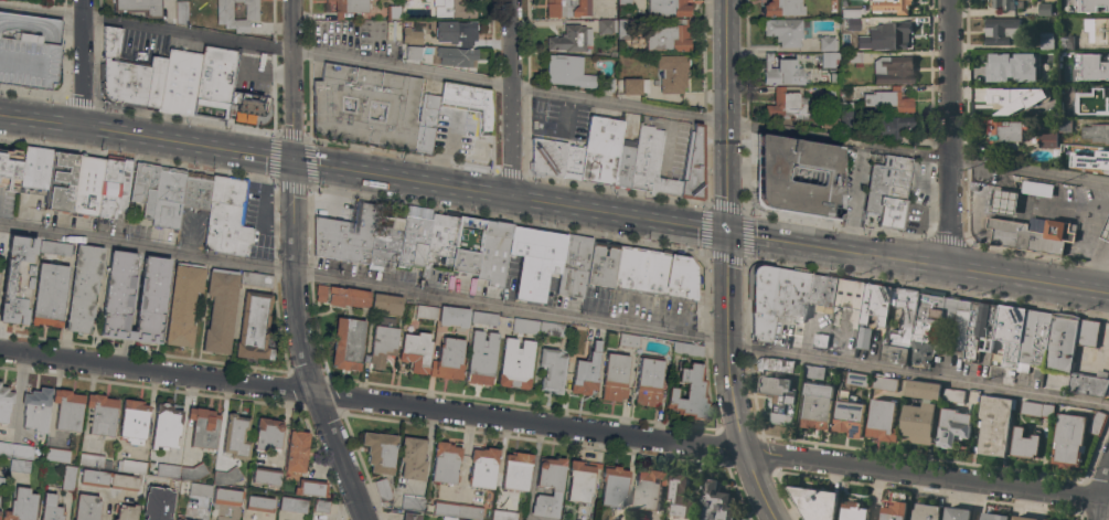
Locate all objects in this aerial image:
building: (625, 2)
building: (1003, 4)
building: (895, 6)
building: (1092, 6)
building: (139, 7)
building: (351, 7)
building: (567, 8)
building: (669, 8)
building: (782, 8)
building: (452, 9)
building: (1044, 9)
building: (180, 11)
building: (224, 11)
building: (394, 12)
building: (853, 23)
building: (607, 25)
building: (627, 26)
building: (785, 30)
building: (1097, 30)
building: (1001, 31)
building: (409, 32)
building: (455, 32)
building: (669, 36)
building: (892, 36)
building: (571, 39)
building: (1046, 41)
building: (1066, 42)
building: (827, 43)
building: (29, 50)
building: (408, 52)
building: (451, 54)
building: (1096, 54)
building: (854, 56)
building: (829, 59)
road: (84, 63)
building: (995, 65)
building: (1102, 67)
building: (893, 70)
building: (567, 71)
building: (781, 71)
building: (672, 73)
building: (130, 75)
building: (1037, 76)
building: (834, 78)
building: (1073, 78)
road: (294, 79)
building: (179, 82)
building: (213, 82)
building: (606, 84)
building: (635, 85)
building: (1108, 91)
building: (831, 92)
road: (554, 93)
building: (1083, 95)
road: (514, 97)
building: (1014, 98)
building: (467, 100)
building: (888, 100)
building: (790, 105)
building: (250, 106)
building: (1046, 106)
building: (409, 107)
building: (1074, 108)
building: (1106, 108)
building: (845, 114)
road: (727, 117)
road: (42, 120)
building: (1065, 123)
building: (829, 126)
building: (892, 126)
building: (1096, 132)
road: (950, 135)
building: (1003, 135)
building: (1046, 140)
road: (459, 141)
road: (189, 144)
building: (601, 150)
building: (1065, 153)
building: (547, 158)
traffic signals: (294, 160)
building: (625, 162)
building: (573, 163)
building: (651, 163)
building: (1092, 163)
building: (694, 165)
building: (34, 167)
building: (8, 173)
building: (798, 174)
building: (68, 183)
building: (86, 184)
building: (974, 185)
building: (114, 187)
building: (143, 187)
building: (1036, 189)
building: (888, 191)
building: (195, 192)
road: (511, 195)
building: (168, 198)
road: (854, 198)
building: (1004, 202)
road: (1079, 208)
building: (226, 217)
building: (1106, 231)
building: (345, 234)
traffic signals: (729, 234)
building: (1032, 234)
building: (426, 240)
building: (384, 242)
building: (466, 245)
building: (55, 247)
road: (841, 251)
building: (493, 253)
building: (534, 262)
building: (600, 264)
building: (573, 265)
road: (1097, 269)
building: (653, 273)
building: (17, 278)
building: (255, 279)
road: (1030, 282)
building: (84, 286)
building: (822, 293)
building: (49, 294)
building: (117, 294)
building: (341, 295)
building: (774, 296)
building: (850, 298)
building: (151, 300)
building: (183, 303)
building: (386, 303)
building: (875, 304)
building: (221, 309)
building: (426, 311)
road: (554, 315)
building: (452, 316)
building: (483, 317)
building: (524, 326)
building: (254, 327)
building: (900, 328)
building: (551, 329)
building: (980, 330)
building: (1010, 332)
building: (1088, 332)
building: (920, 335)
building: (863, 338)
building: (1035, 338)
building: (628, 339)
building: (820, 340)
building: (346, 342)
building: (1062, 342)
road: (729, 343)
road: (305, 344)
building: (382, 344)
building: (687, 349)
building: (415, 350)
building: (447, 358)
building: (480, 358)
building: (514, 363)
building: (775, 364)
building: (551, 370)
building: (586, 371)
building: (813, 372)
building: (614, 375)
building: (856, 379)
building: (648, 382)
building: (884, 383)
building: (1089, 384)
building: (923, 390)
building: (690, 393)
building: (952, 395)
building: (778, 397)
road: (372, 401)
building: (6, 402)
building: (815, 405)
building: (36, 408)
building: (1036, 408)
building: (67, 410)
building: (102, 414)
building: (847, 414)
building: (882, 420)
building: (134, 421)
building: (917, 423)
building: (1097, 423)
building: (993, 425)
building: (166, 426)
building: (203, 427)
building: (952, 427)
building: (267, 434)
building: (236, 436)
building: (1068, 441)
building: (1024, 444)
building: (15, 449)
building: (380, 450)
building: (296, 452)
building: (57, 454)
building: (412, 457)
building: (94, 460)
building: (445, 461)
building: (19, 465)
building: (132, 466)
building: (482, 466)
building: (168, 469)
building: (515, 470)
building: (193, 471)
building: (227, 476)
road: (926, 476)
building: (68, 477)
building: (266, 477)
building: (108, 479)
building: (580, 480)
building: (170, 486)
building: (614, 486)
road: (759, 486)
building: (310, 487)
building: (556, 488)
building: (200, 489)
building: (649, 489)
building: (382, 490)
building: (226, 496)
building: (679, 496)
road: (1103, 498)
building: (412, 502)
building: (714, 502)
building: (814, 502)
building: (259, 503)
building: (21, 505)
building: (291, 505)
building: (50, 506)
building: (321, 506)
building: (86, 507)
building: (457, 509)
building: (853, 511)
building: (893, 511)
building: (126, 512)
building: (925, 512)
building: (152, 513)
building: (956, 513)
building: (503, 514)
building: (410, 516)
building: (992, 517)
building: (451, 518)
building: (1022, 518)
building: (175, 519)
building: (181, 519)
building: (1047, 519)

